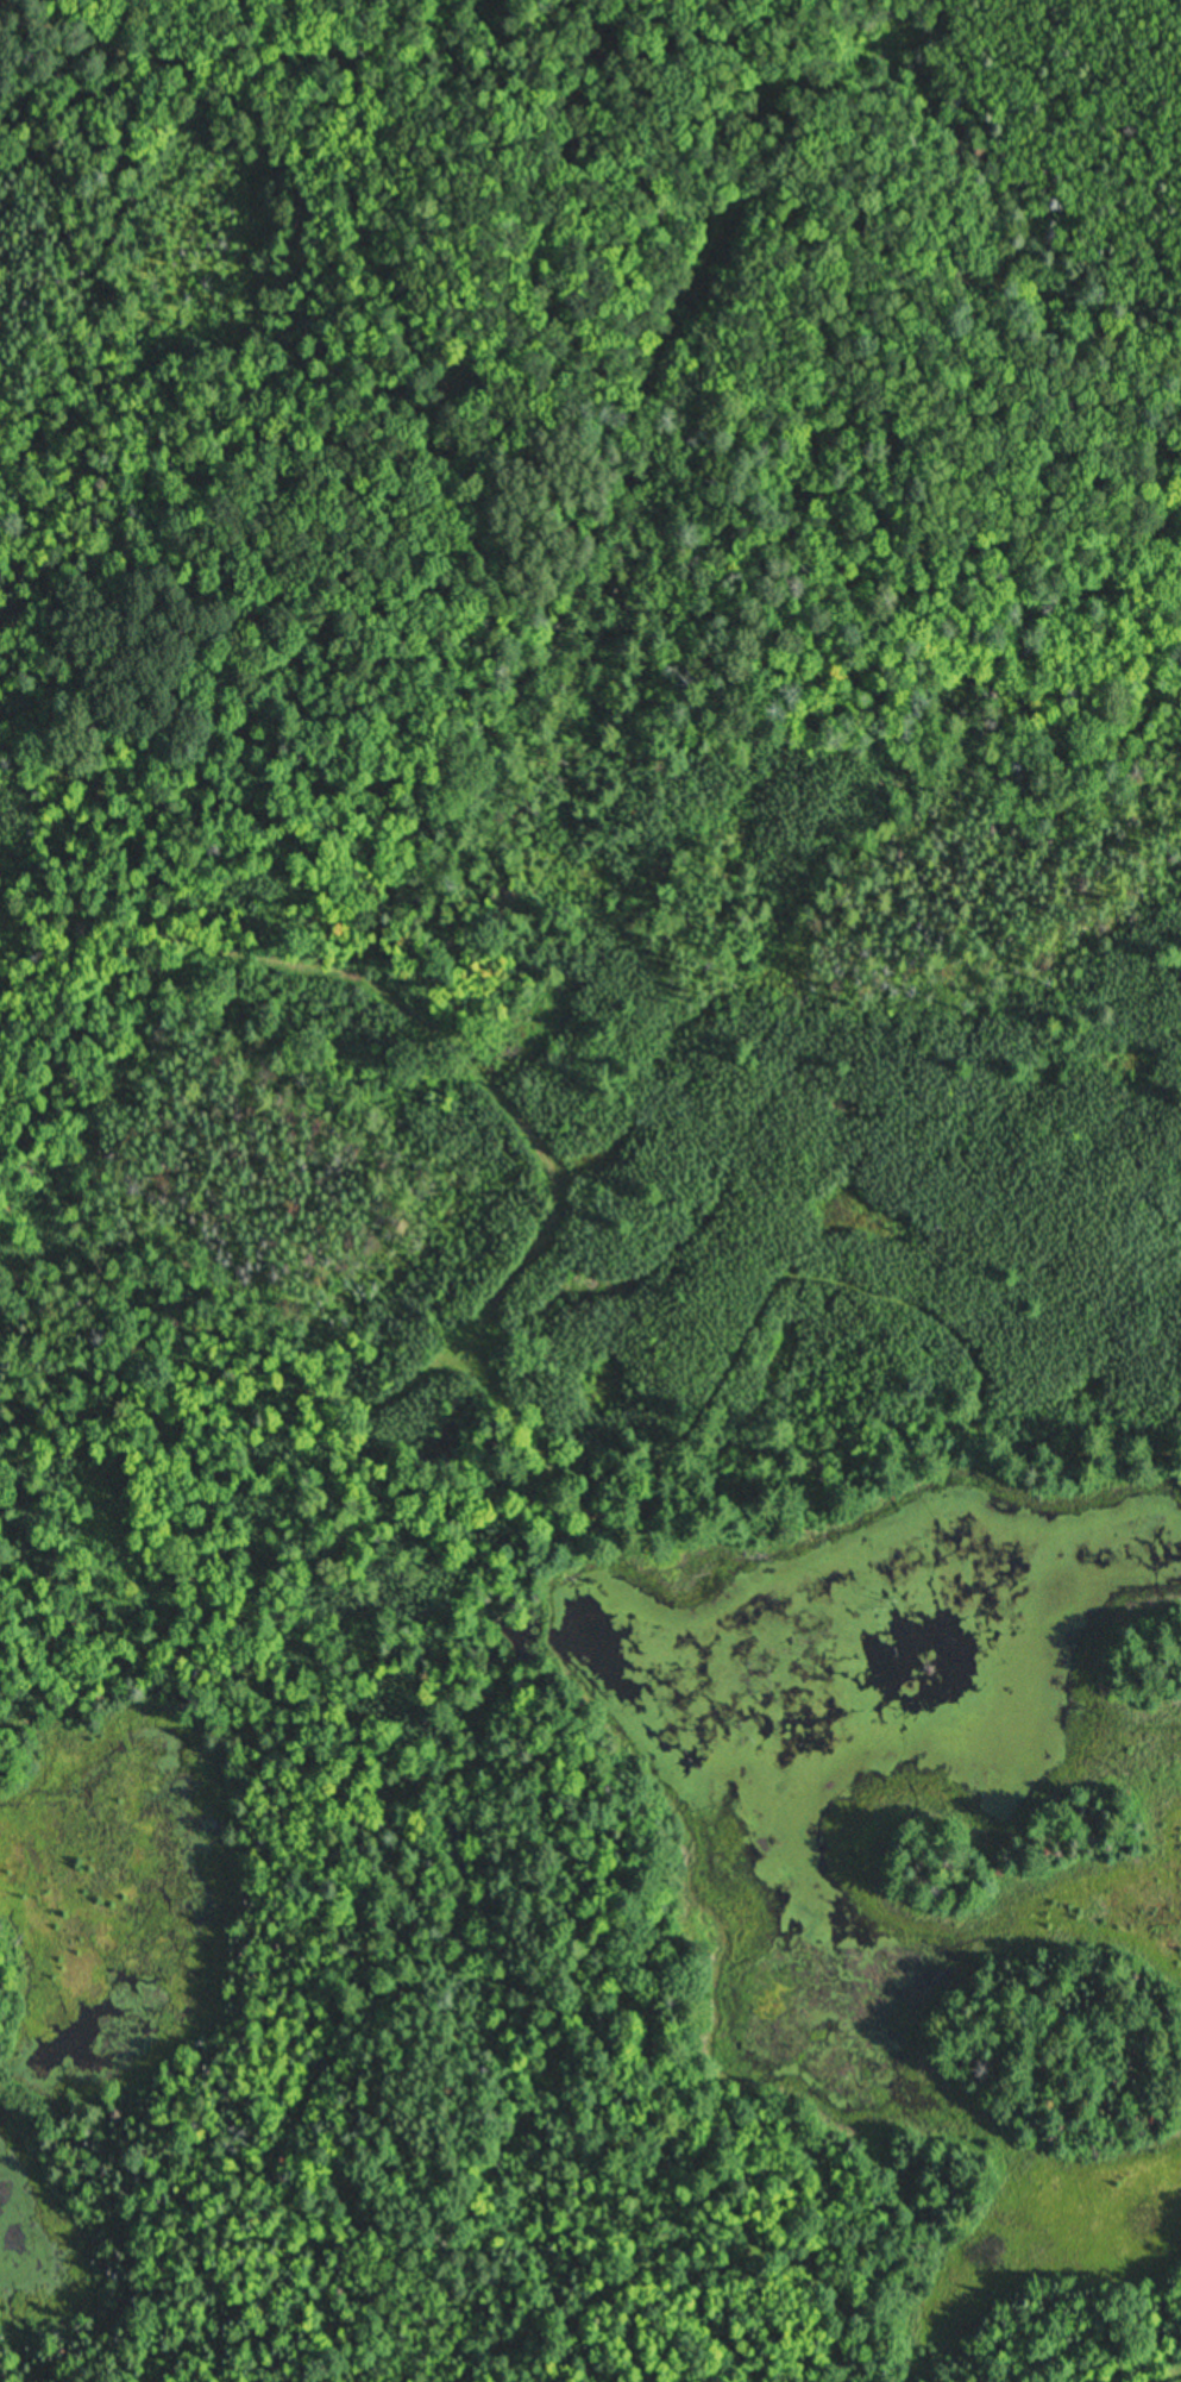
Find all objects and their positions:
road: (533, 1617)

